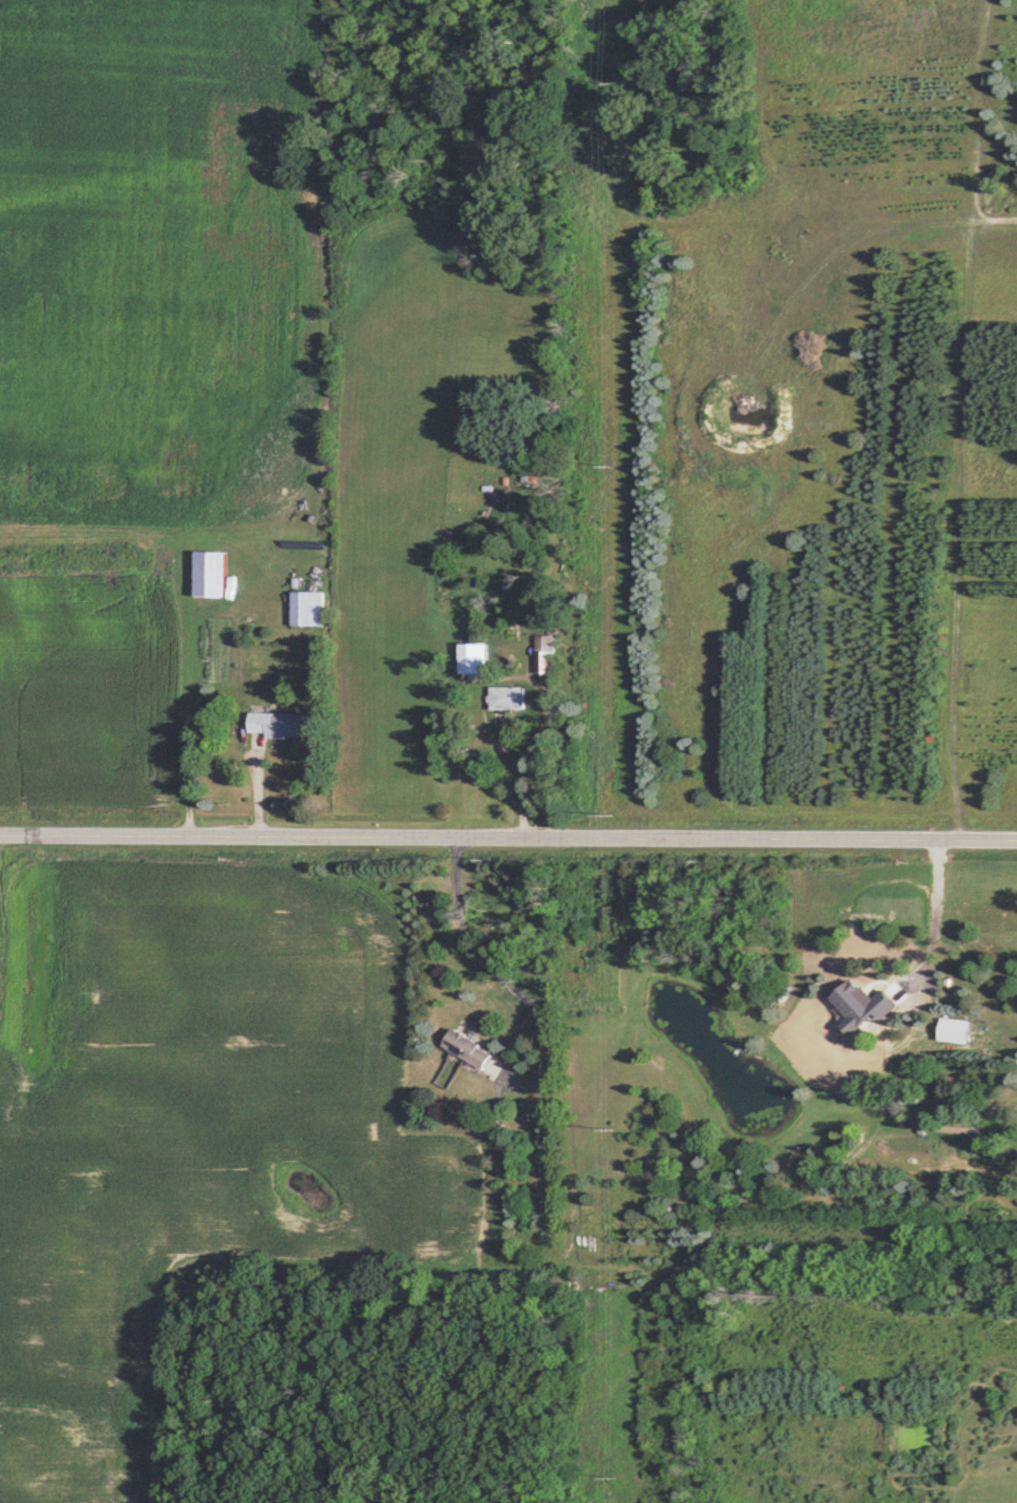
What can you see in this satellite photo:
building: (210, 573)
building: (306, 608)
building: (544, 654)
building: (507, 697)
building: (277, 724)
road: (508, 839)
road: (511, 979)
building: (467, 1049)

